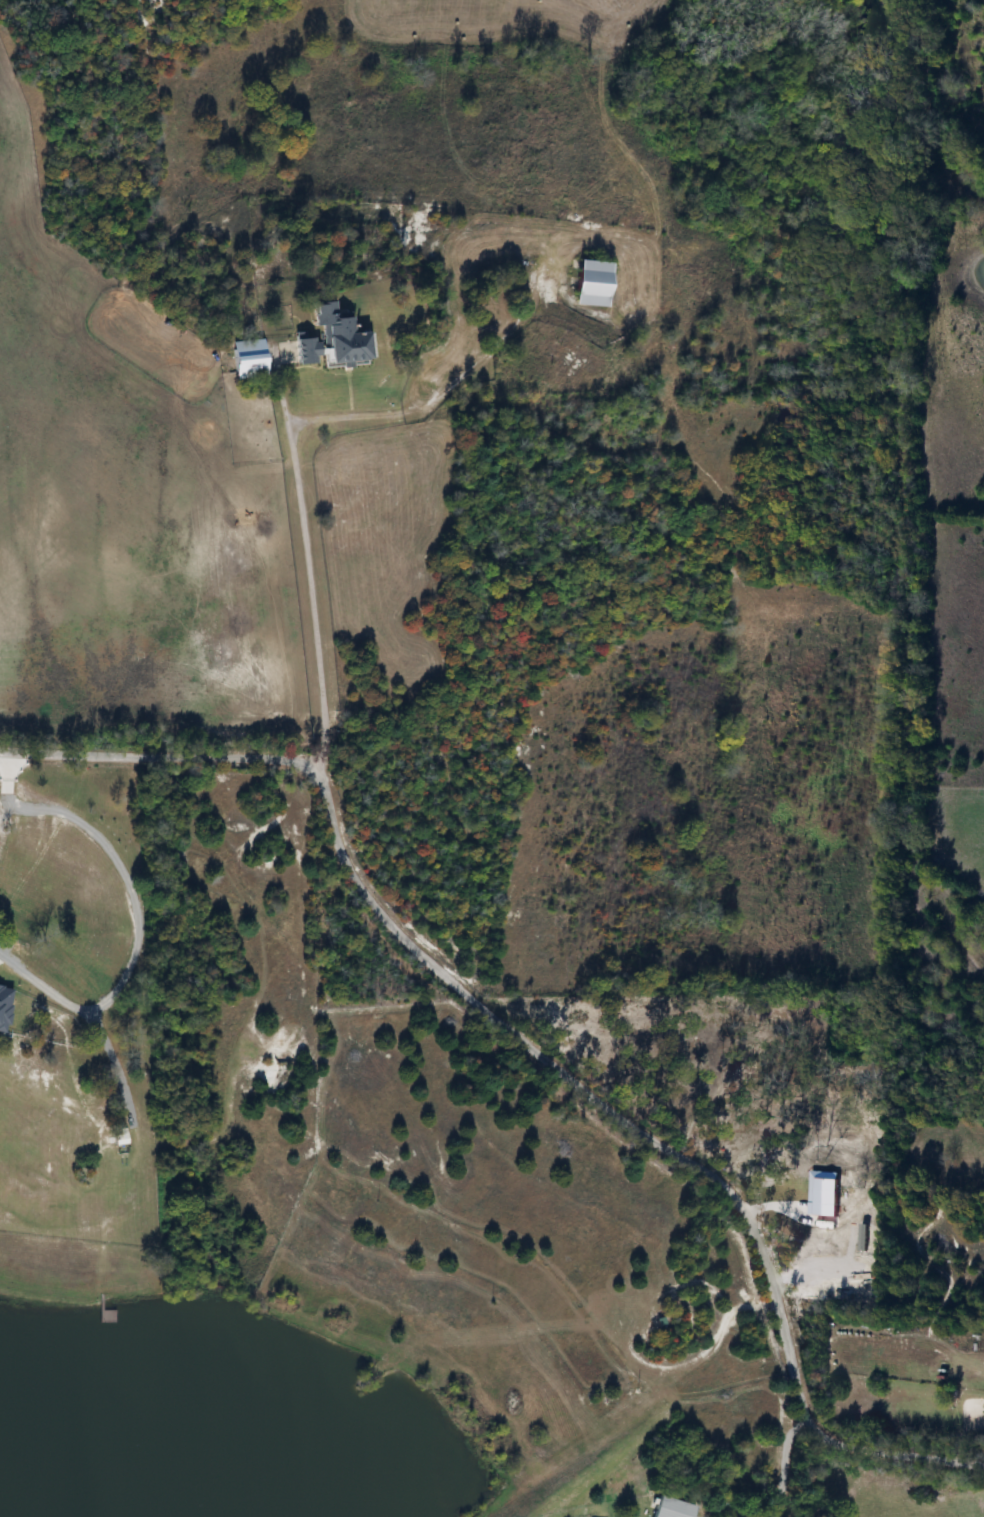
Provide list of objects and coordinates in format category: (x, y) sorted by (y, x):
building: (585, 284)
building: (336, 337)
building: (300, 351)
building: (245, 360)
road: (293, 447)
road: (129, 926)
building: (5, 945)
building: (5, 1013)
road: (531, 1046)
road: (115, 1066)
building: (117, 1139)
road: (779, 1464)
building: (671, 1509)

